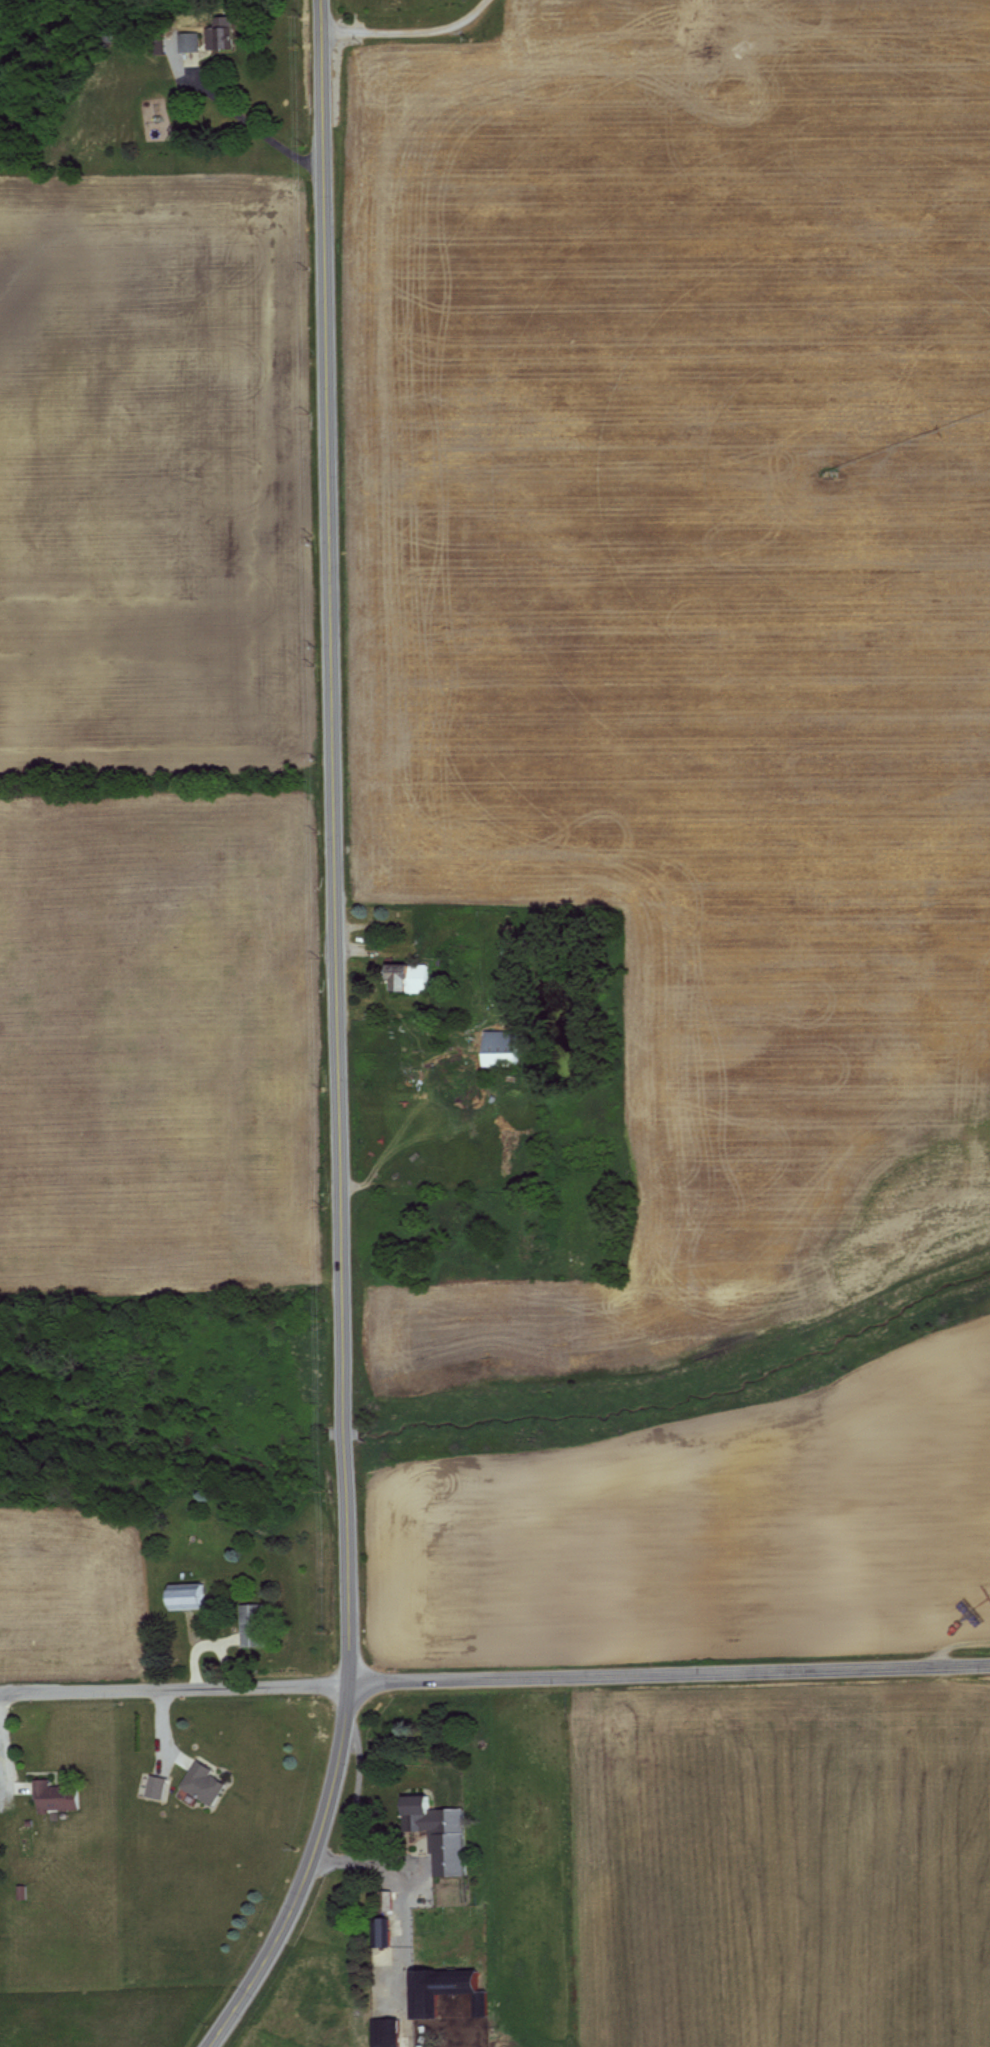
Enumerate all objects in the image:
road: (409, 25)
building: (214, 37)
building: (187, 41)
road: (248, 120)
building: (406, 975)
road: (337, 1039)
building: (498, 1045)
building: (182, 1595)
building: (250, 1624)
road: (495, 1680)
road: (0, 1709)
building: (200, 1782)
building: (153, 1785)
building: (52, 1796)
building: (438, 1833)
building: (382, 1899)
building: (377, 1930)
building: (382, 2032)

